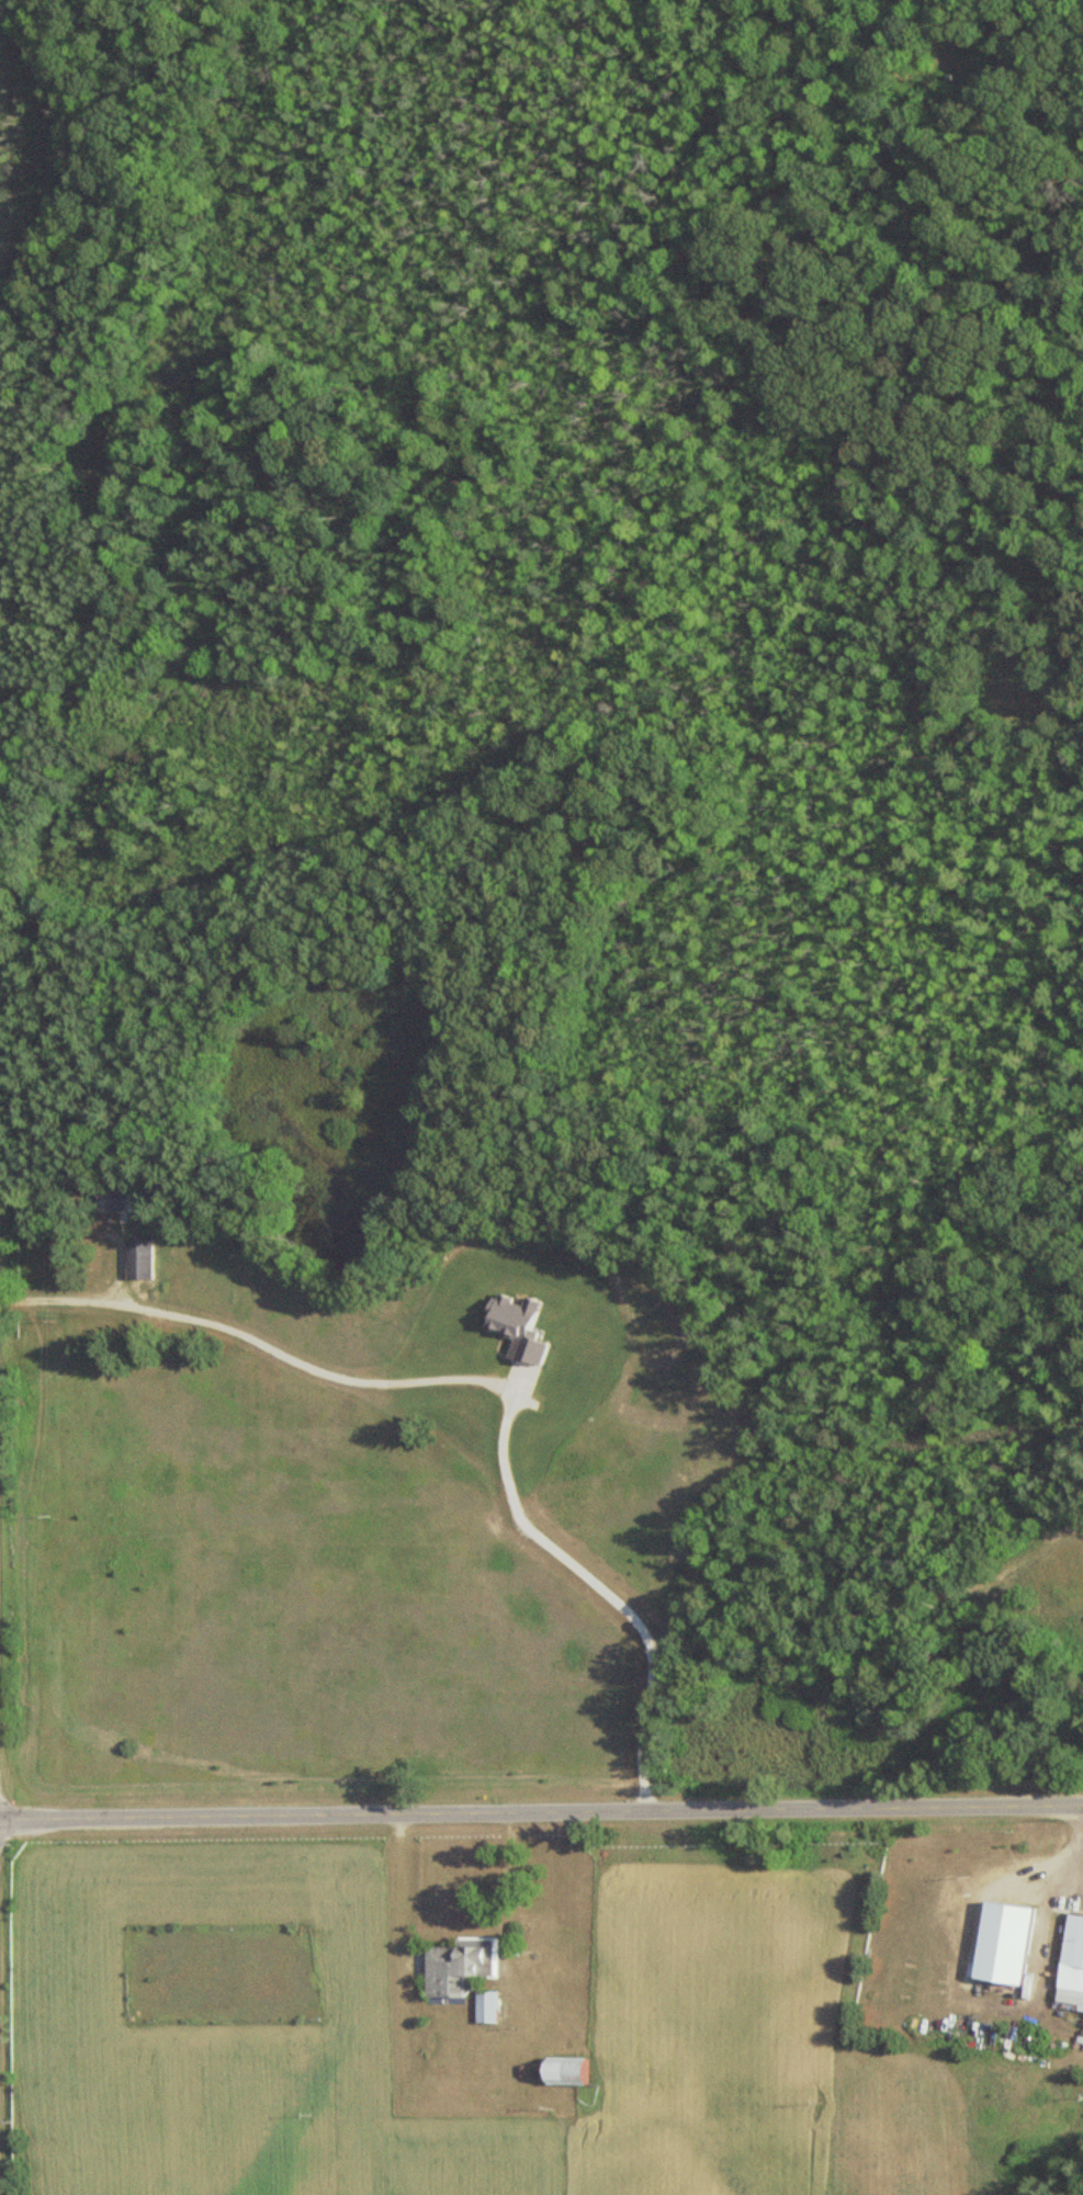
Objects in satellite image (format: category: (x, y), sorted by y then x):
building: (144, 1259)
road: (487, 1384)
road: (541, 1809)
road: (505, 1872)
building: (1070, 1962)
building: (455, 1967)
building: (559, 2072)

